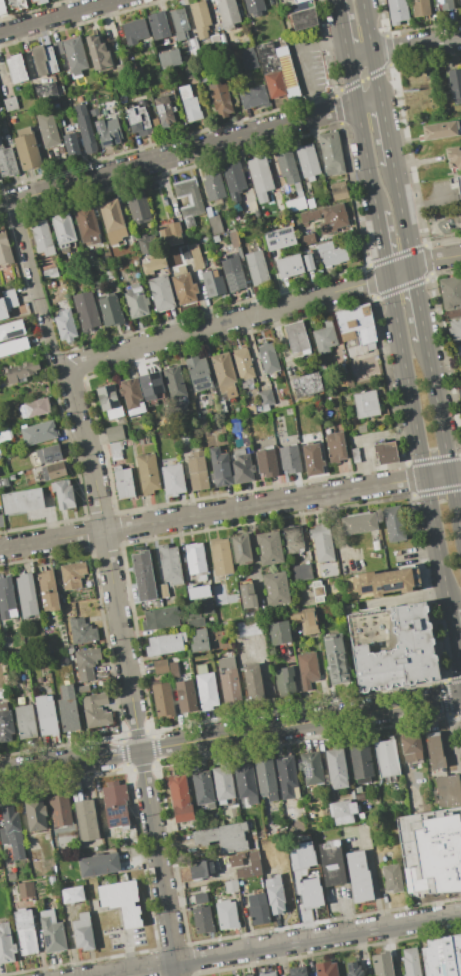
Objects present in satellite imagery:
building: (39, 1)
building: (297, 1)
building: (460, 1)
building: (18, 4)
building: (445, 4)
building: (2, 7)
building: (254, 7)
building: (420, 8)
building: (398, 11)
building: (227, 13)
road: (58, 16)
building: (200, 18)
building: (302, 18)
building: (179, 23)
building: (158, 25)
road: (341, 27)
building: (134, 31)
building: (214, 40)
road: (415, 44)
building: (57, 48)
building: (194, 49)
road: (370, 49)
building: (98, 52)
road: (359, 53)
building: (75, 55)
building: (169, 58)
building: (249, 58)
building: (43, 60)
road: (304, 60)
parking lot: (307, 63)
building: (16, 68)
building: (276, 70)
building: (189, 71)
building: (455, 85)
building: (47, 91)
building: (172, 96)
building: (253, 97)
building: (220, 99)
road: (368, 101)
building: (10, 104)
building: (189, 104)
building: (164, 111)
building: (137, 119)
building: (85, 128)
building: (5, 130)
building: (48, 130)
building: (106, 130)
building: (439, 130)
road: (386, 131)
road: (361, 133)
building: (71, 144)
building: (27, 149)
building: (331, 153)
road: (178, 154)
building: (453, 157)
building: (307, 160)
building: (7, 161)
building: (287, 166)
building: (260, 177)
building: (234, 180)
building: (459, 185)
building: (214, 186)
building: (338, 189)
building: (296, 199)
building: (189, 200)
road: (426, 201)
building: (138, 206)
building: (207, 211)
building: (111, 216)
road: (402, 216)
building: (327, 217)
building: (87, 224)
building: (214, 224)
building: (63, 229)
building: (170, 233)
building: (42, 237)
building: (127, 239)
building: (280, 239)
building: (306, 239)
road: (381, 244)
building: (147, 245)
building: (5, 250)
building: (185, 252)
building: (332, 254)
building: (196, 255)
building: (309, 262)
building: (154, 263)
building: (289, 266)
building: (257, 268)
building: (108, 272)
building: (49, 273)
building: (233, 274)
building: (213, 283)
building: (51, 284)
building: (95, 284)
building: (184, 286)
road: (37, 287)
building: (450, 291)
building: (161, 293)
building: (136, 300)
road: (418, 303)
building: (3, 310)
building: (86, 311)
building: (111, 311)
road: (263, 311)
building: (453, 313)
building: (65, 325)
building: (12, 329)
building: (356, 329)
building: (455, 329)
road: (335, 331)
building: (297, 337)
building: (324, 338)
building: (13, 346)
building: (457, 350)
building: (268, 357)
building: (243, 364)
building: (21, 371)
building: (199, 373)
building: (224, 374)
building: (307, 384)
building: (151, 385)
building: (175, 386)
building: (459, 393)
building: (132, 396)
building: (266, 397)
building: (109, 401)
building: (366, 404)
building: (222, 406)
building: (34, 408)
building: (362, 429)
building: (38, 433)
building: (5, 434)
building: (115, 434)
building: (184, 437)
road: (443, 438)
road: (419, 443)
building: (336, 446)
building: (116, 451)
building: (386, 452)
building: (48, 453)
building: (355, 455)
building: (312, 458)
building: (290, 459)
building: (267, 463)
building: (241, 466)
building: (220, 467)
building: (54, 471)
building: (148, 473)
building: (197, 473)
building: (173, 479)
building: (123, 482)
building: (63, 494)
building: (22, 501)
road: (230, 510)
building: (394, 523)
building: (359, 524)
road: (334, 534)
building: (293, 539)
building: (322, 542)
building: (269, 547)
building: (242, 549)
building: (221, 556)
building: (195, 557)
building: (170, 564)
building: (302, 572)
building: (72, 574)
building: (144, 575)
building: (388, 581)
building: (276, 588)
building: (163, 590)
building: (48, 591)
building: (318, 591)
building: (199, 592)
building: (247, 595)
building: (26, 596)
building: (223, 596)
road: (404, 597)
building: (6, 600)
building: (208, 607)
building: (247, 614)
building: (160, 618)
building: (194, 621)
building: (306, 621)
building: (250, 628)
building: (81, 632)
building: (279, 632)
building: (199, 641)
road: (454, 641)
building: (165, 644)
building: (392, 647)
building: (270, 650)
building: (336, 658)
building: (185, 659)
building: (86, 662)
building: (161, 666)
building: (307, 669)
road: (127, 672)
road: (265, 678)
building: (230, 681)
building: (285, 681)
building: (252, 682)
building: (206, 689)
building: (186, 696)
building: (163, 699)
building: (67, 709)
building: (96, 710)
building: (46, 715)
building: (25, 722)
building: (6, 723)
road: (230, 735)
building: (411, 747)
building: (435, 751)
building: (386, 757)
building: (360, 760)
building: (336, 766)
building: (311, 768)
building: (265, 777)
building: (287, 778)
building: (222, 784)
building: (246, 786)
building: (203, 788)
building: (448, 790)
building: (180, 798)
building: (115, 804)
building: (60, 810)
building: (342, 811)
building: (35, 814)
building: (86, 820)
building: (12, 831)
building: (224, 837)
building: (431, 848)
building: (35, 855)
building: (332, 863)
building: (99, 865)
building: (250, 866)
building: (202, 868)
building: (12, 876)
building: (359, 877)
road: (372, 877)
building: (392, 878)
building: (231, 886)
building: (26, 889)
building: (275, 894)
building: (72, 895)
building: (200, 898)
building: (122, 901)
building: (258, 908)
building: (227, 915)
building: (202, 919)
building: (52, 931)
building: (83, 932)
building: (25, 933)
building: (6, 944)
road: (276, 945)
building: (442, 956)
building: (410, 962)
building: (382, 964)
building: (325, 969)
building: (353, 969)
building: (297, 971)
building: (267, 974)
road: (105, 975)
building: (249, 975)
building: (252, 975)

